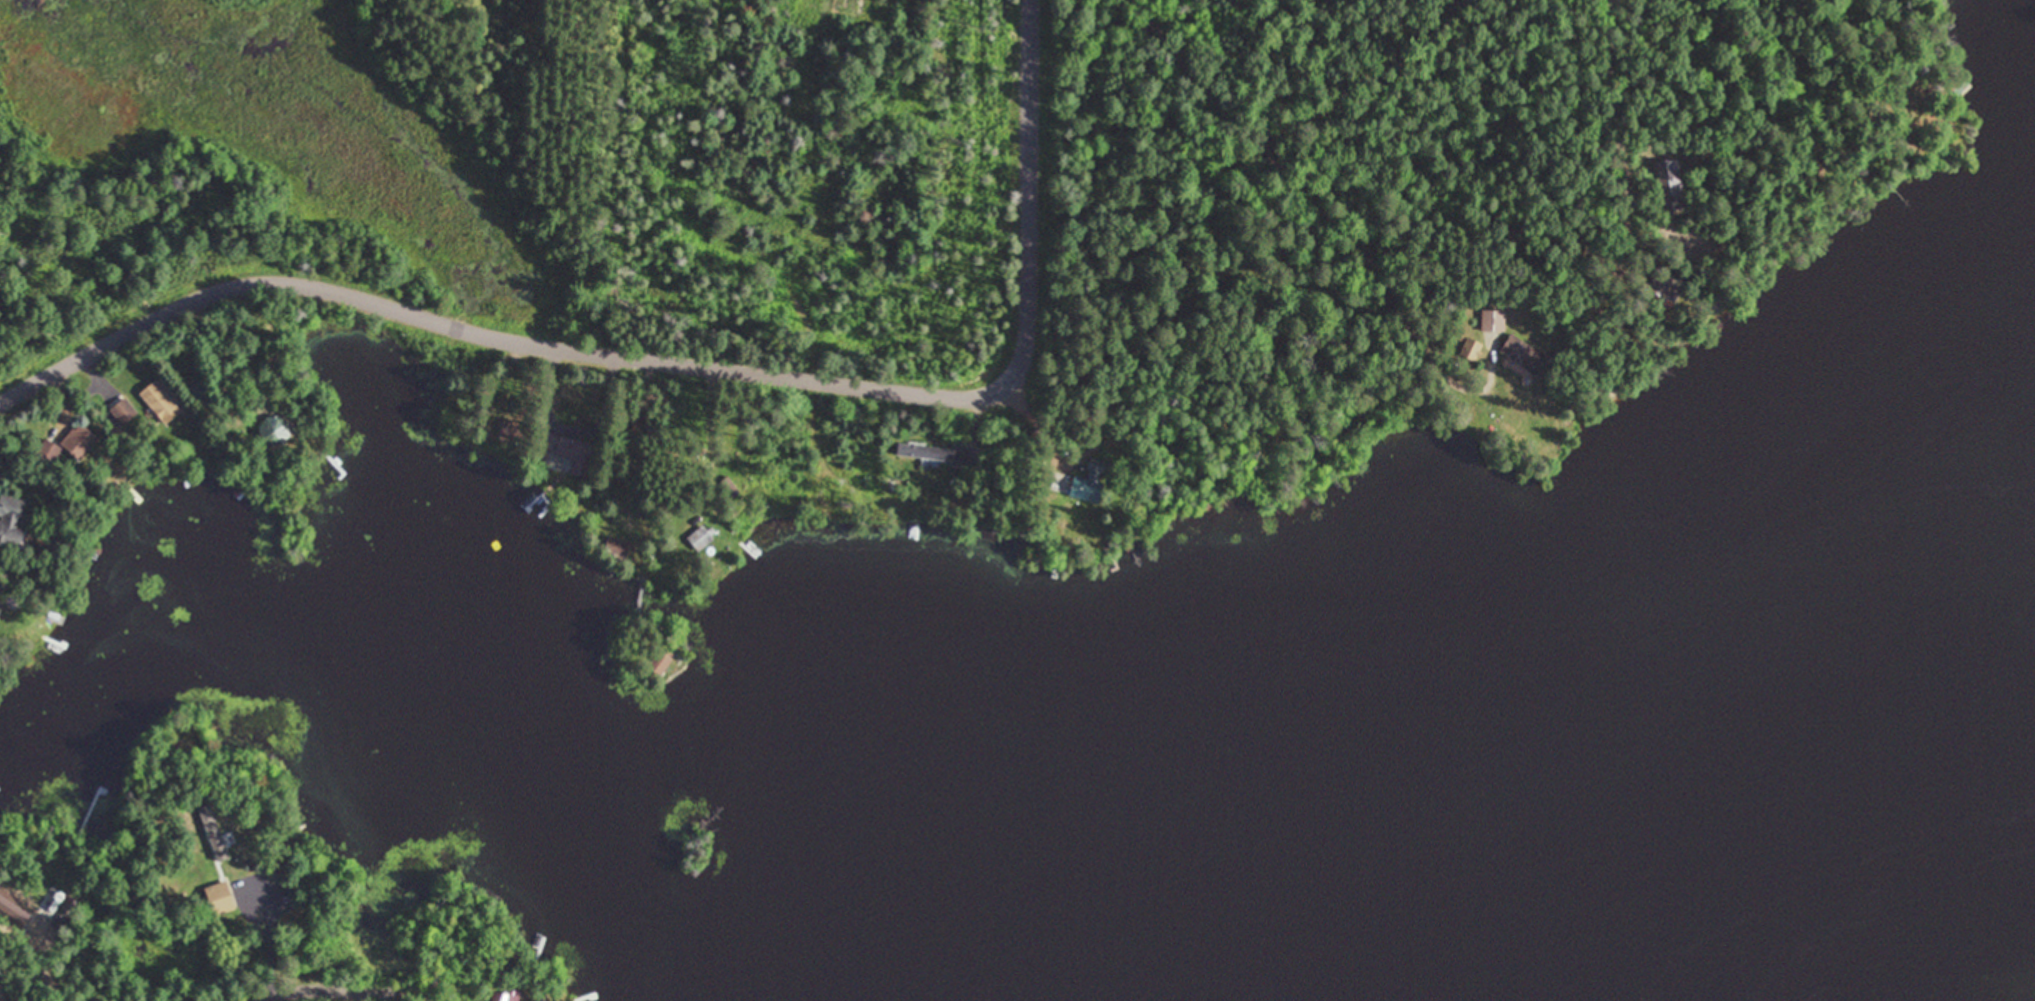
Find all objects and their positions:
road: (1582, 130)
road: (1288, 131)
building: (1668, 186)
building: (1666, 287)
building: (1493, 321)
building: (1471, 351)
road: (682, 357)
building: (1527, 357)
building: (202, 392)
building: (161, 401)
building: (124, 410)
building: (275, 430)
building: (71, 443)
building: (566, 453)
building: (938, 455)
building: (1091, 482)
building: (12, 519)
building: (701, 537)
building: (617, 548)
building: (662, 660)
building: (215, 834)
river: (1567, 845)
building: (220, 897)
road: (288, 982)
building: (506, 996)

